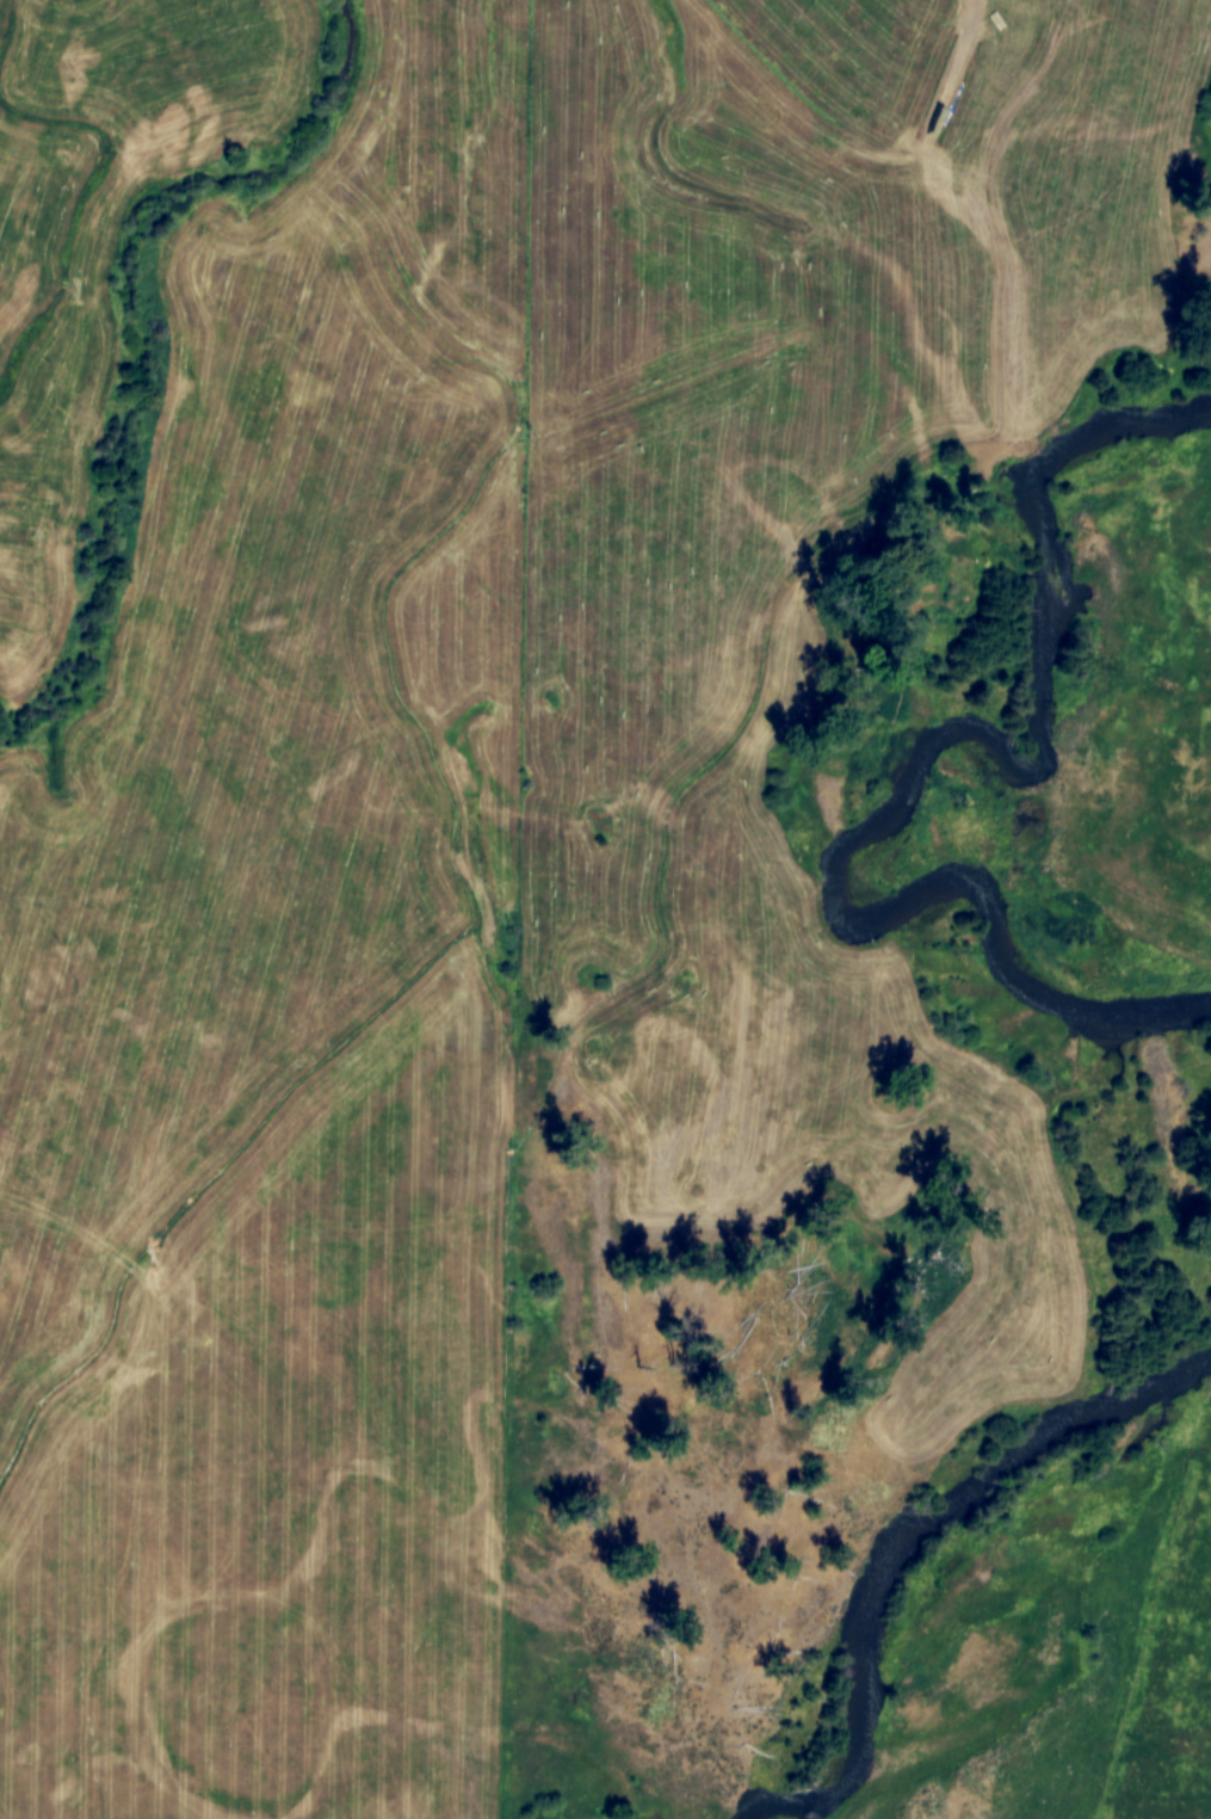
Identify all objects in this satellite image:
river: (941, 739)
river: (922, 1527)

